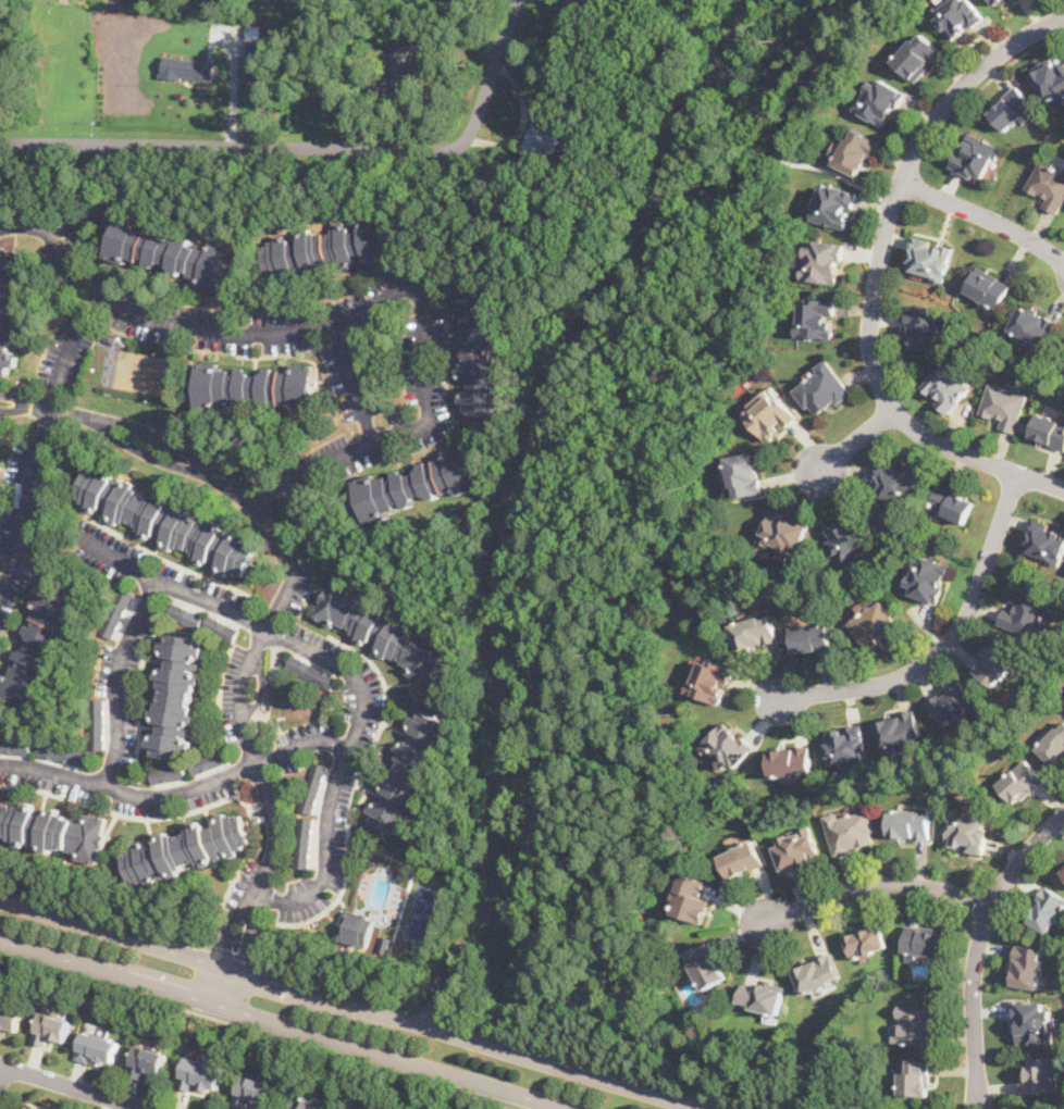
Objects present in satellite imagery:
building: (1000, 2)
building: (598, 3)
building: (960, 16)
building: (258, 50)
building: (918, 54)
road: (1011, 60)
building: (188, 67)
building: (398, 68)
building: (1049, 78)
building: (879, 100)
building: (1012, 108)
building: (543, 134)
road: (308, 147)
building: (853, 149)
building: (974, 154)
road: (784, 157)
building: (1047, 185)
building: (833, 203)
road: (985, 214)
building: (325, 248)
building: (170, 250)
building: (930, 257)
building: (821, 260)
road: (878, 271)
building: (989, 286)
building: (12, 303)
road: (354, 312)
building: (816, 316)
building: (1034, 325)
building: (921, 327)
building: (478, 349)
road: (352, 384)
building: (947, 384)
building: (255, 385)
building: (821, 388)
building: (1003, 406)
building: (772, 415)
building: (1048, 429)
road: (39, 438)
road: (854, 440)
building: (0, 447)
building: (745, 474)
building: (898, 479)
building: (413, 483)
road: (512, 487)
building: (951, 503)
building: (166, 521)
building: (783, 531)
building: (845, 534)
park: (657, 536)
building: (1044, 540)
building: (927, 576)
building: (117, 611)
building: (184, 612)
building: (1025, 613)
road: (272, 615)
building: (875, 624)
building: (221, 626)
building: (384, 631)
building: (754, 632)
building: (812, 638)
road: (947, 643)
building: (38, 647)
building: (995, 661)
building: (311, 671)
road: (352, 675)
road: (117, 678)
building: (710, 681)
building: (177, 697)
building: (952, 701)
building: (98, 723)
building: (899, 728)
building: (16, 745)
building: (845, 745)
building: (1053, 745)
building: (727, 747)
building: (61, 751)
building: (210, 761)
building: (790, 761)
building: (409, 771)
building: (168, 773)
building: (1020, 781)
building: (312, 785)
road: (176, 790)
building: (908, 823)
building: (52, 828)
building: (852, 831)
building: (967, 831)
building: (302, 842)
building: (188, 848)
building: (797, 850)
building: (742, 860)
building: (1063, 870)
road: (871, 884)
building: (692, 899)
building: (1046, 908)
park: (421, 912)
road: (101, 913)
building: (357, 926)
building: (921, 939)
building: (866, 940)
road: (977, 946)
road: (231, 952)
building: (707, 963)
building: (1027, 964)
building: (817, 974)
building: (762, 996)
road: (356, 1005)
building: (10, 1017)
building: (1034, 1021)
building: (915, 1023)
road: (289, 1024)
building: (51, 1025)
road: (259, 1030)
road: (517, 1037)
building: (97, 1048)
building: (148, 1060)
road: (1, 1069)
building: (201, 1072)
building: (1040, 1074)
building: (916, 1077)
road: (75, 1086)
building: (251, 1088)
building: (308, 1101)
building: (38, 1106)
park: (495, 1106)
building: (286, 1108)

